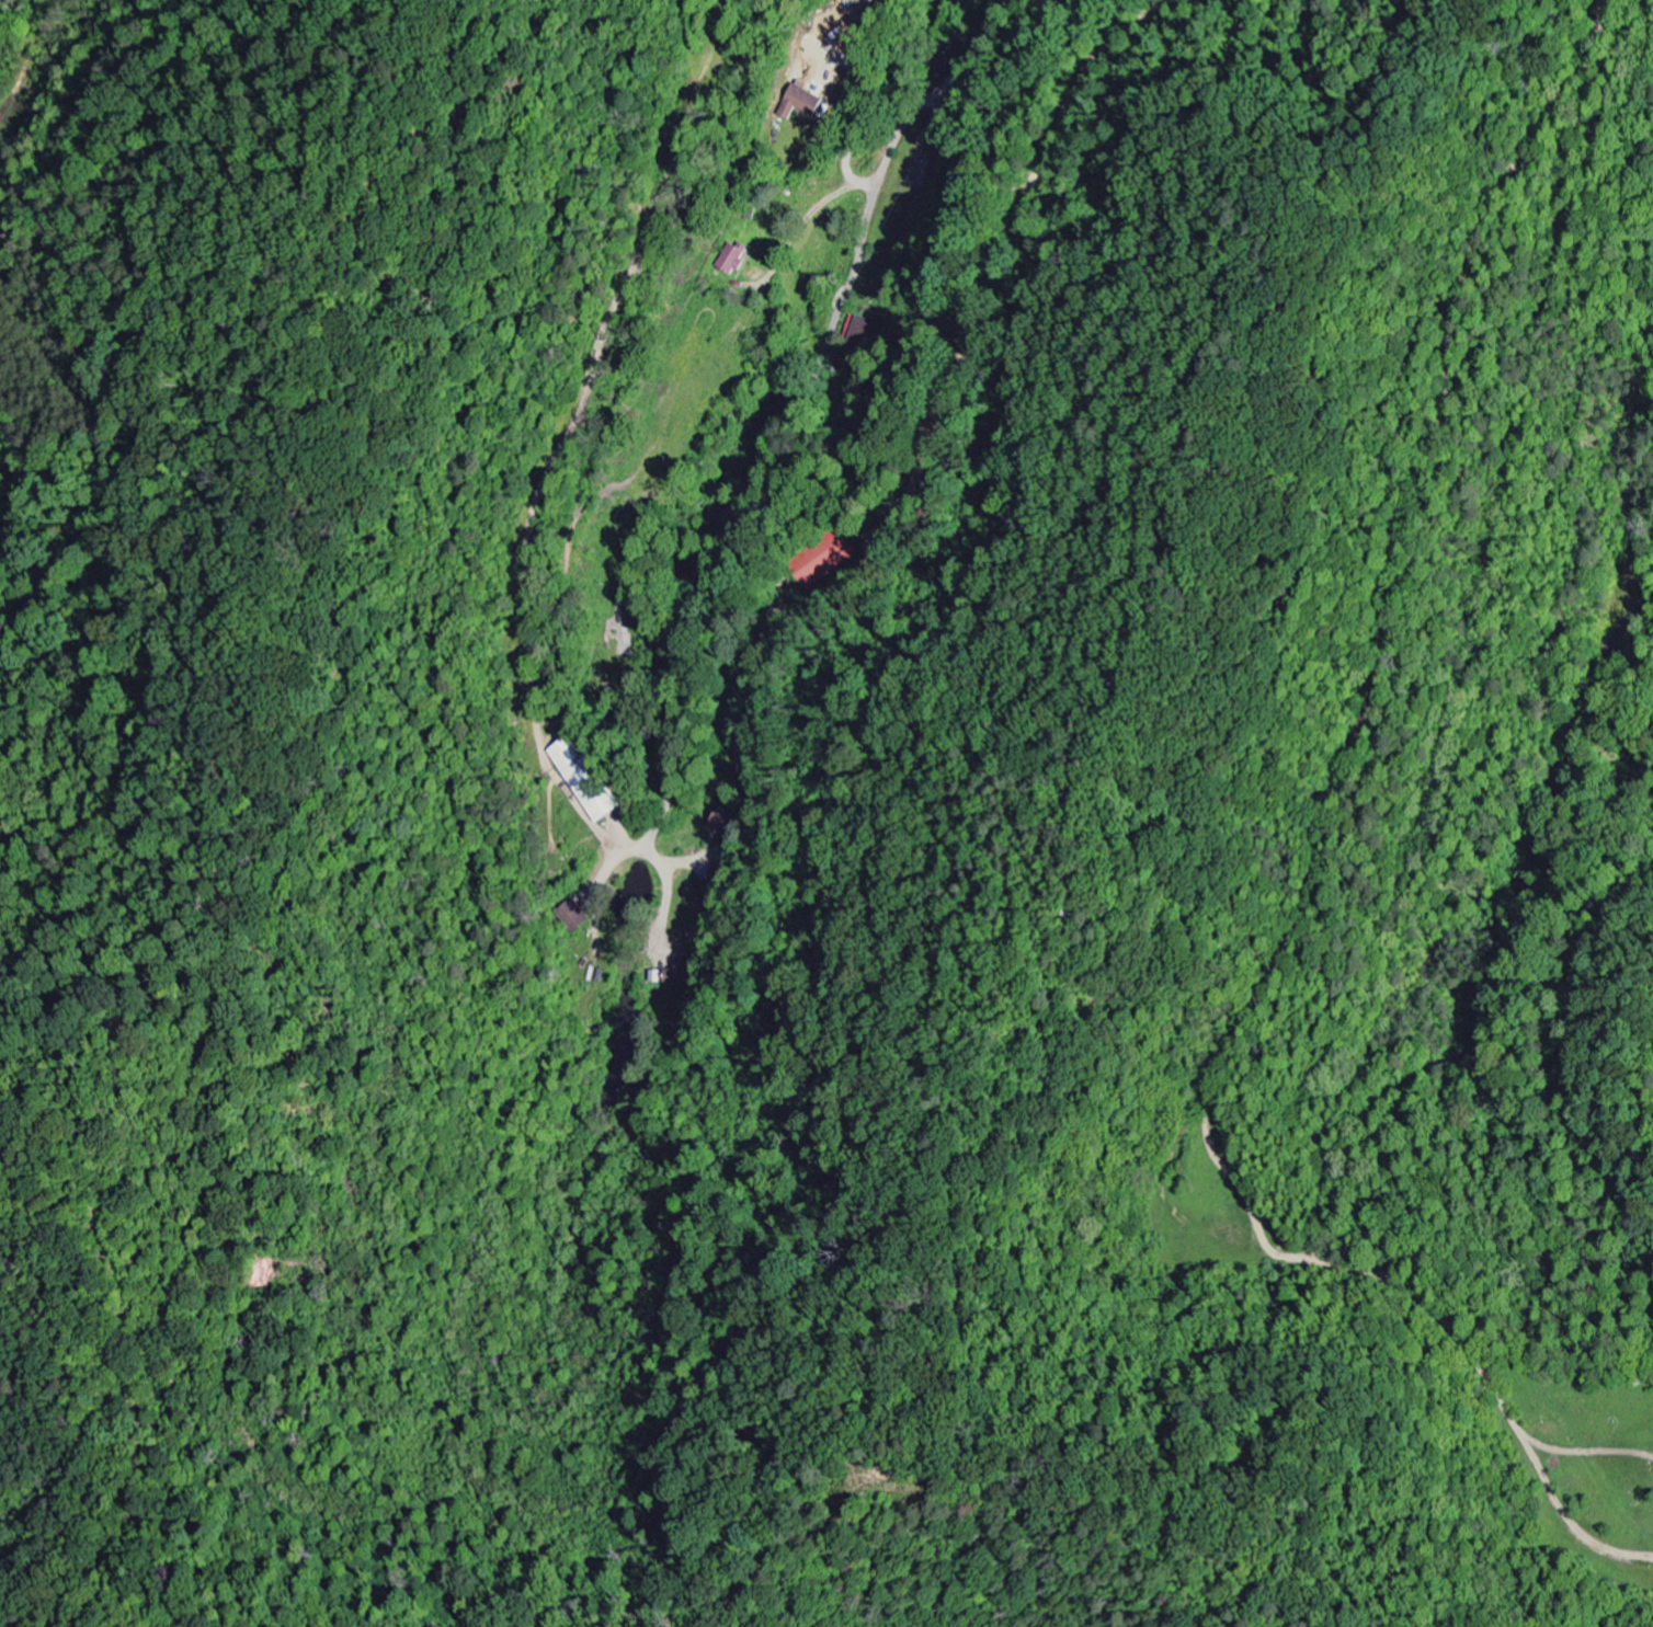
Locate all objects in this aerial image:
building: (736, 259)
road: (796, 408)
building: (583, 780)

